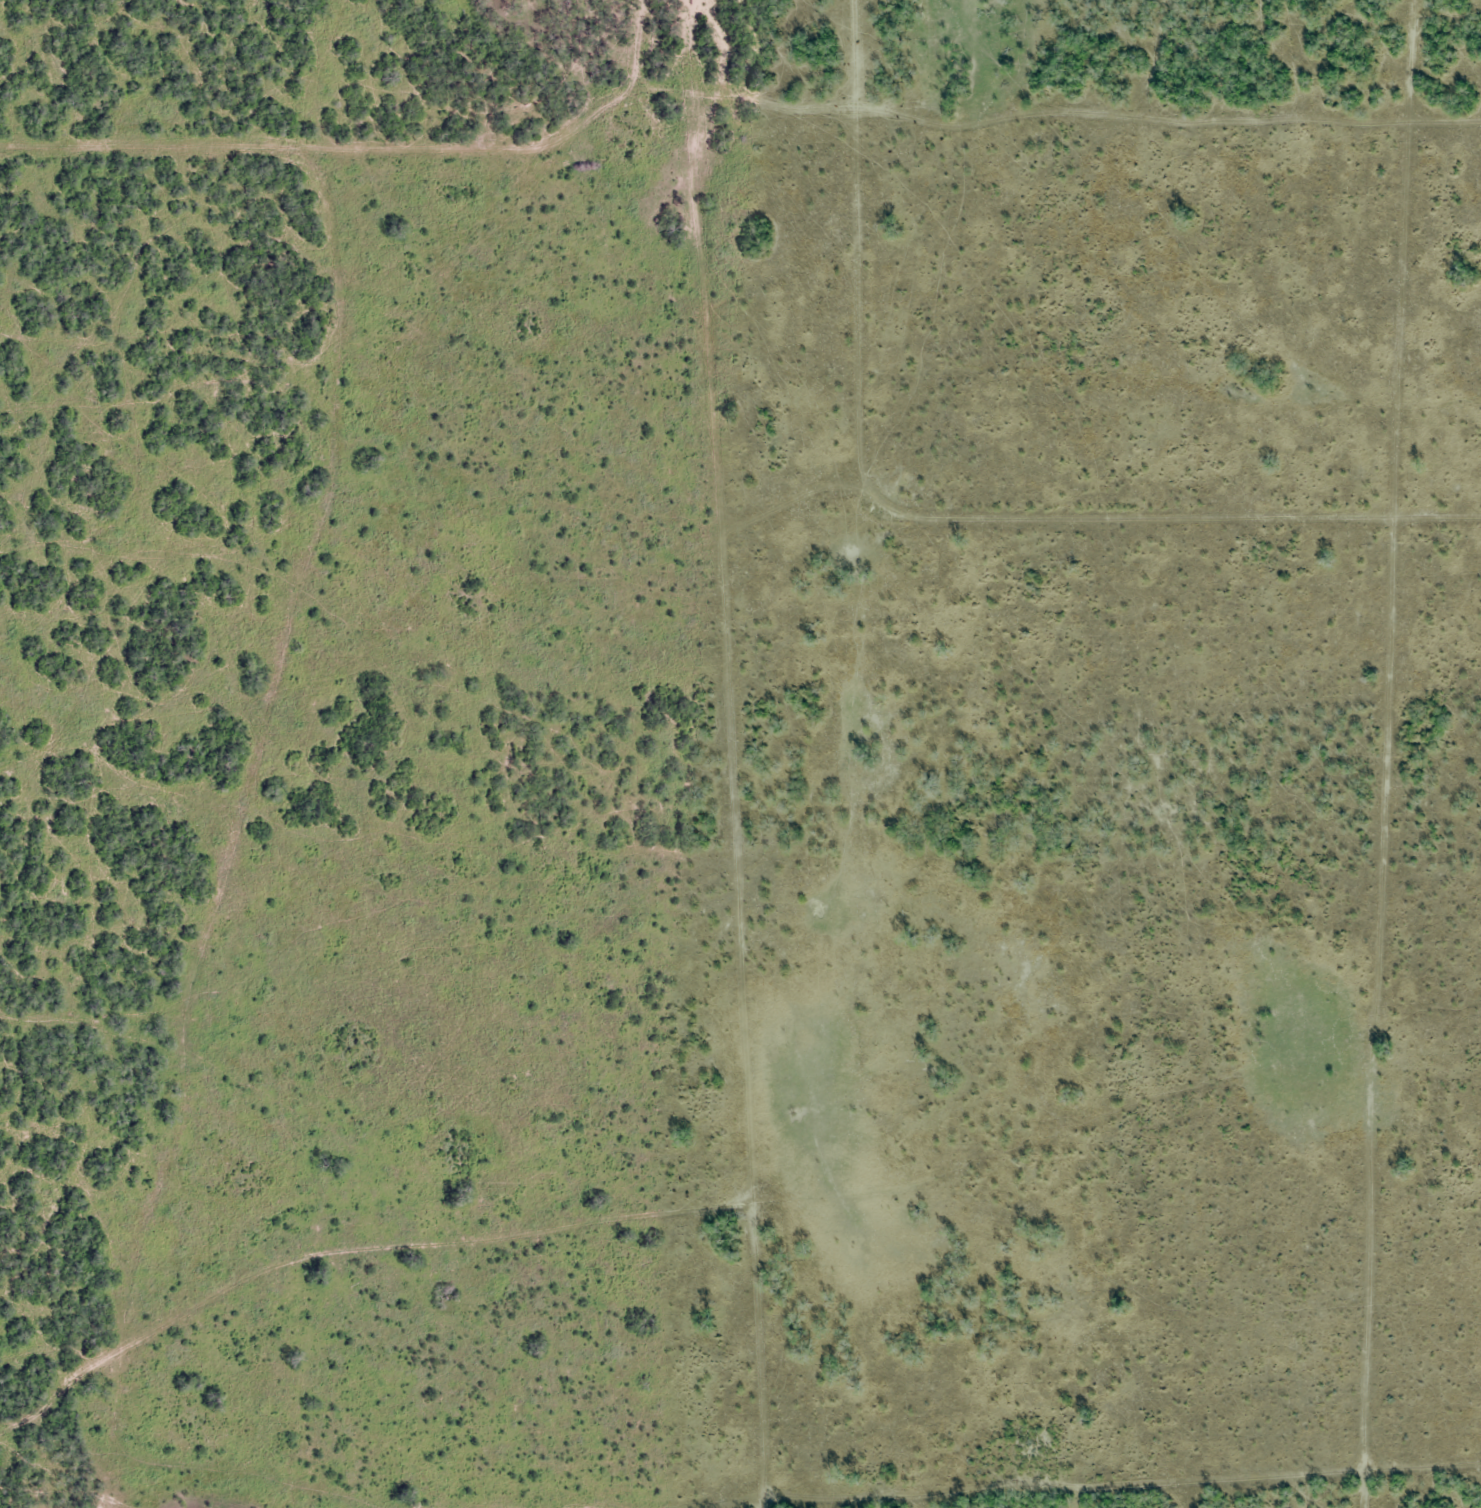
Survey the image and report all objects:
road: (737, 1155)

